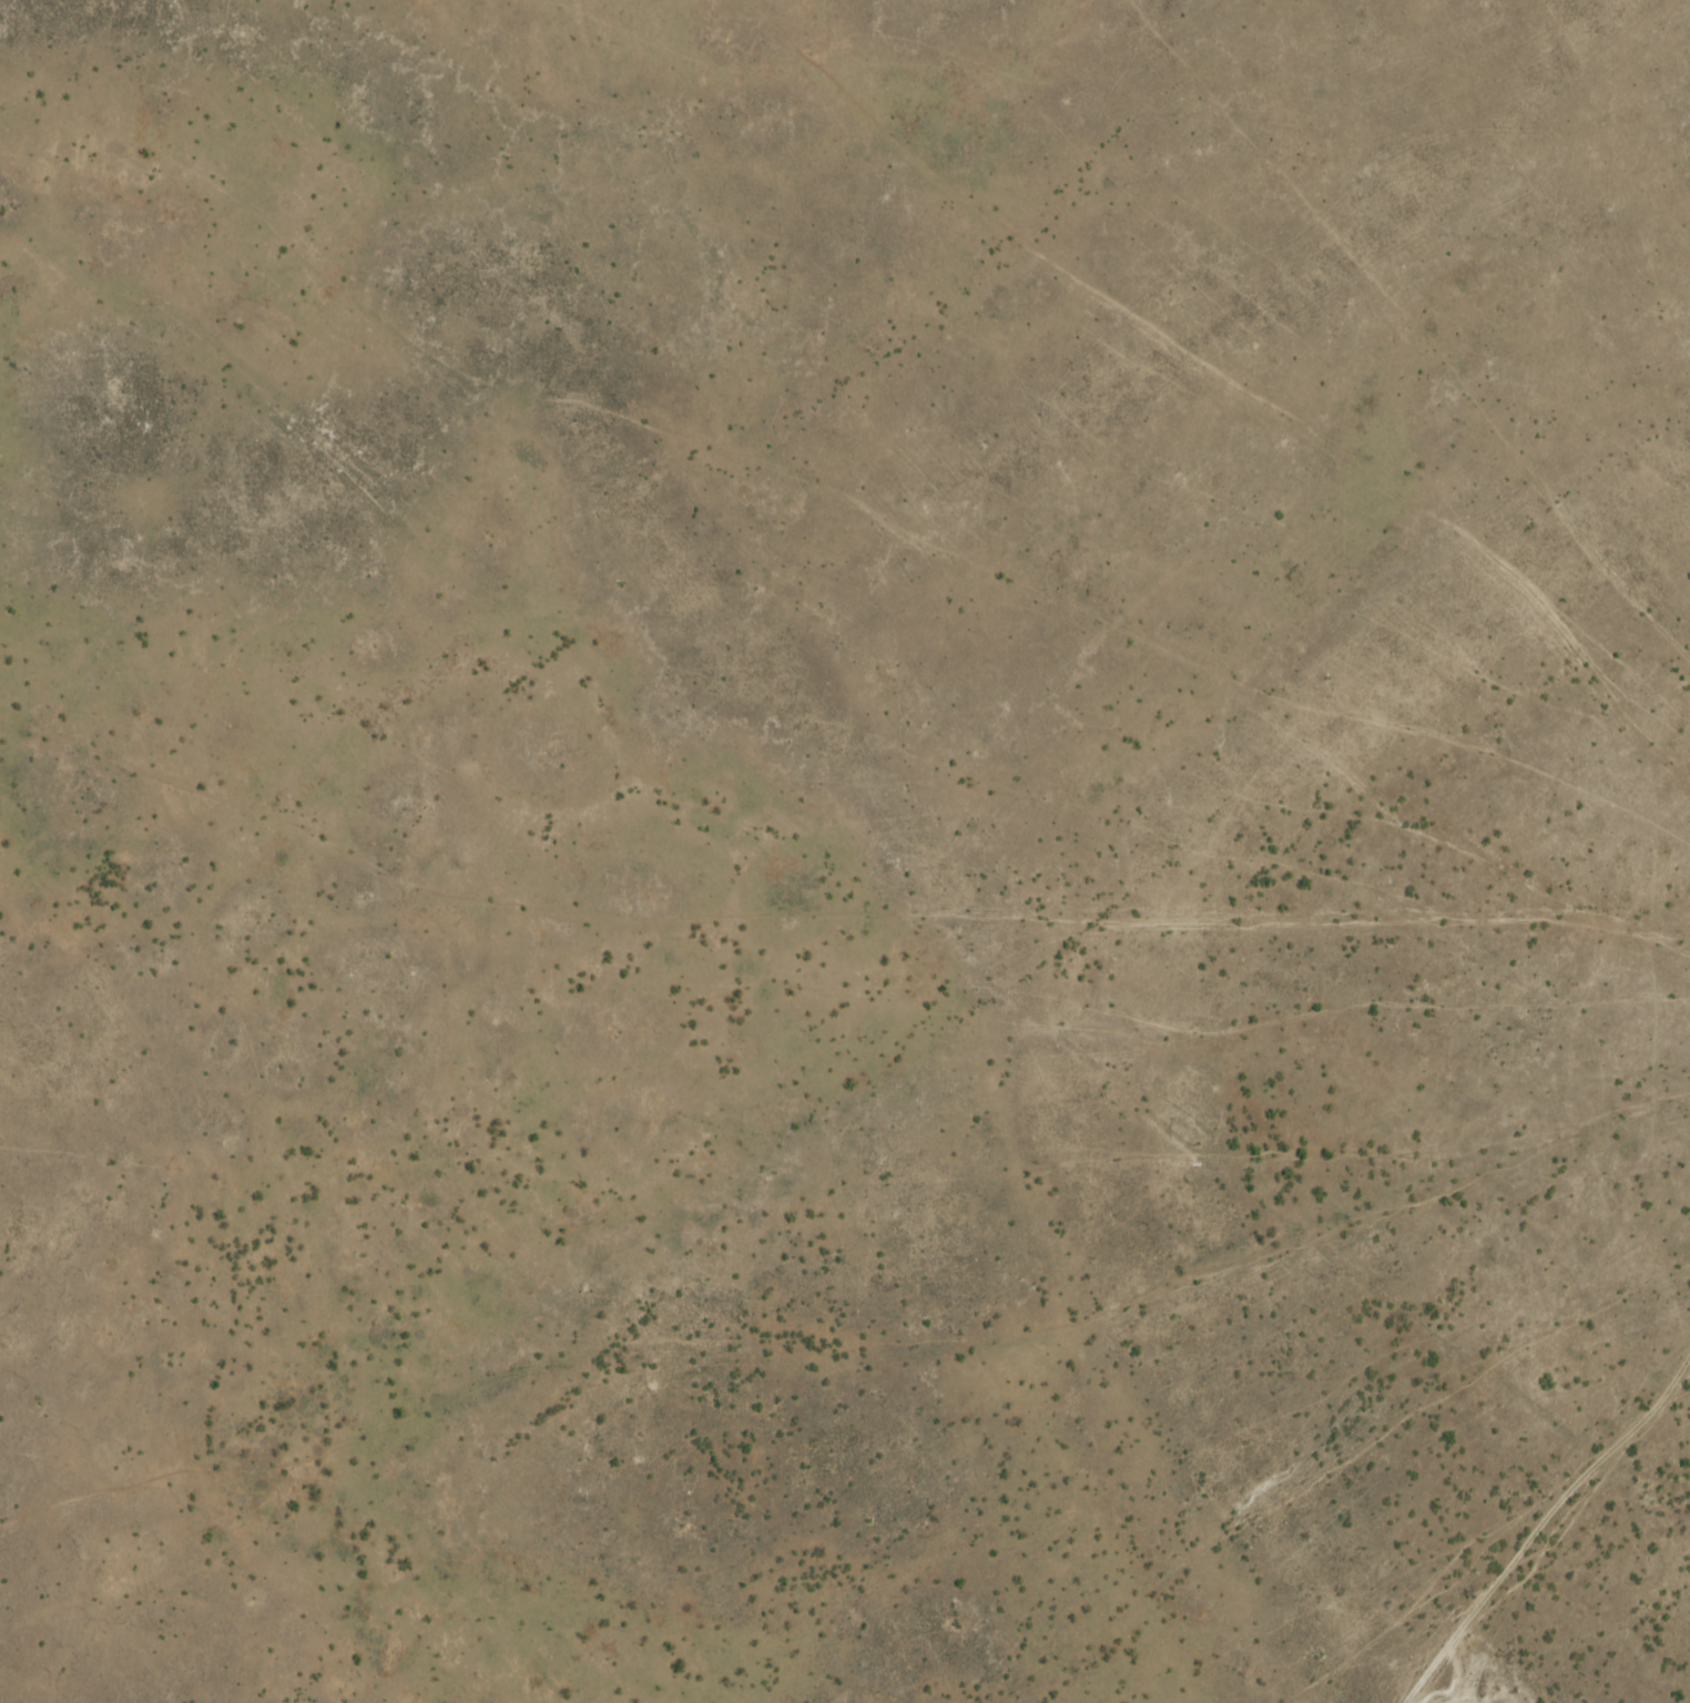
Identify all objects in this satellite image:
road: (1533, 1520)

